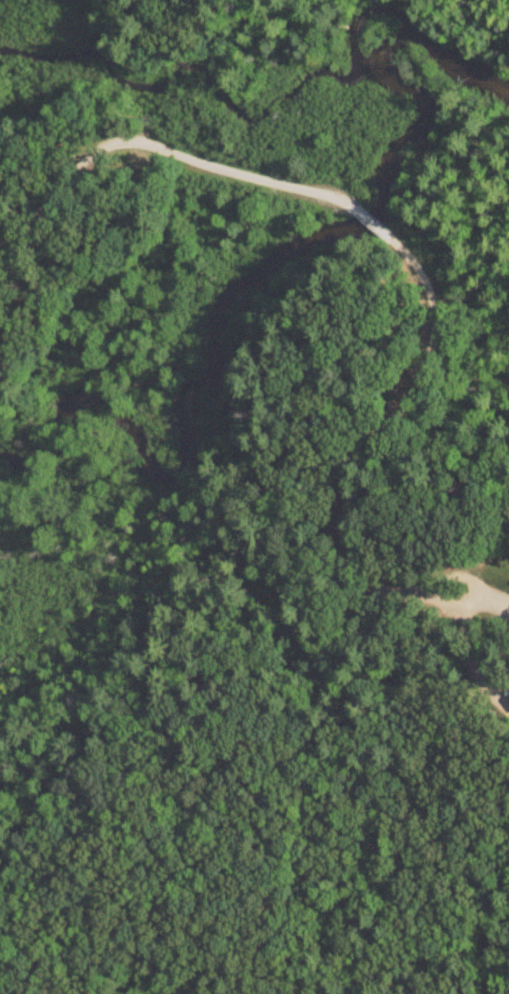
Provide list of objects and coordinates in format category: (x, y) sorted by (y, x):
road: (157, 150)
road: (368, 219)
road: (366, 450)

